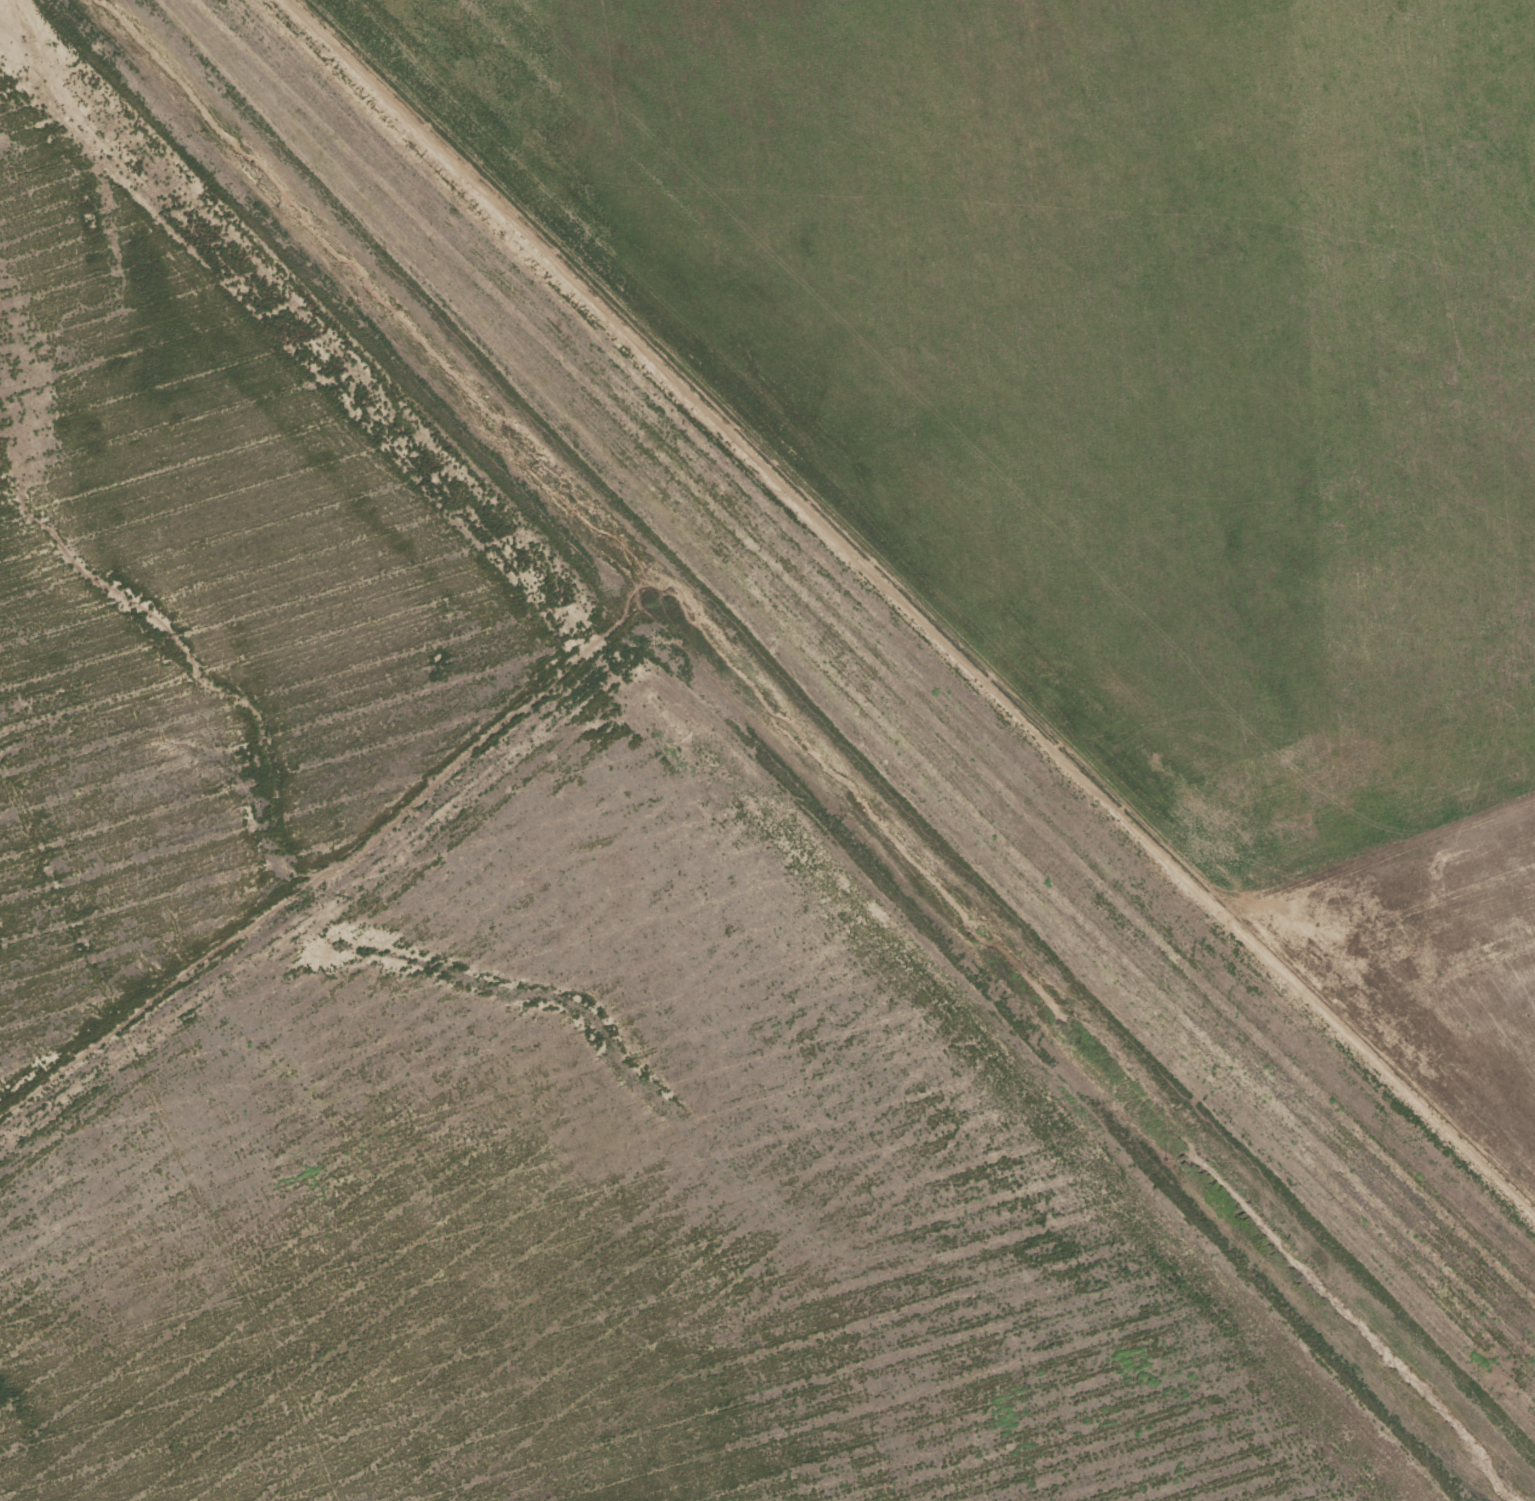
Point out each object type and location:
road: (865, 654)

